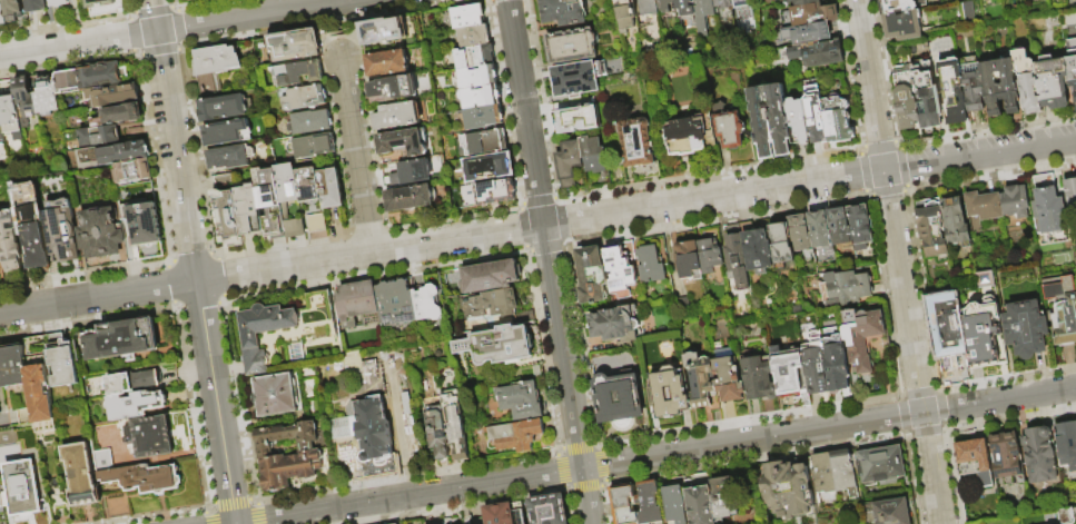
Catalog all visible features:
building: (739, 1)
building: (679, 3)
building: (720, 3)
building: (61, 4)
building: (105, 6)
building: (37, 7)
building: (663, 7)
building: (896, 7)
building: (646, 8)
building: (13, 11)
building: (811, 11)
building: (563, 12)
building: (465, 17)
building: (623, 17)
building: (702, 17)
building: (2, 18)
road: (327, 18)
building: (902, 26)
road: (176, 28)
building: (383, 31)
building: (807, 34)
building: (471, 37)
building: (295, 46)
road: (334, 46)
building: (570, 47)
building: (1070, 47)
building: (817, 56)
building: (472, 58)
building: (386, 63)
building: (214, 68)
building: (1072, 72)
building: (298, 75)
building: (475, 78)
building: (92, 79)
building: (575, 79)
building: (1026, 81)
building: (1052, 83)
building: (402, 87)
building: (971, 87)
building: (999, 87)
building: (951, 90)
building: (115, 97)
building: (304, 98)
building: (477, 98)
building: (904, 98)
building: (27, 99)
building: (48, 99)
building: (926, 100)
building: (221, 108)
building: (396, 116)
building: (815, 116)
building: (120, 117)
building: (11, 118)
building: (482, 118)
building: (576, 120)
building: (837, 120)
building: (309, 121)
building: (778, 121)
building: (797, 122)
building: (760, 123)
building: (1, 130)
building: (730, 131)
building: (226, 132)
building: (687, 137)
building: (100, 139)
building: (401, 142)
building: (482, 144)
building: (313, 146)
building: (638, 149)
road: (356, 155)
building: (593, 156)
building: (115, 157)
building: (236, 157)
building: (569, 164)
building: (490, 168)
building: (412, 172)
building: (132, 174)
building: (307, 181)
building: (329, 184)
building: (493, 191)
building: (1069, 191)
building: (408, 199)
building: (284, 202)
building: (1014, 202)
building: (1045, 206)
building: (224, 208)
building: (980, 209)
building: (247, 210)
building: (955, 224)
road: (537, 225)
building: (146, 226)
building: (859, 227)
building: (839, 228)
building: (33, 229)
building: (929, 229)
building: (819, 230)
building: (100, 235)
building: (800, 236)
building: (66, 238)
building: (10, 244)
building: (780, 246)
building: (757, 251)
building: (709, 255)
building: (651, 259)
building: (0, 260)
building: (688, 260)
road: (194, 261)
road: (549, 261)
building: (736, 261)
road: (899, 261)
building: (620, 267)
building: (591, 275)
building: (488, 277)
building: (843, 288)
building: (394, 303)
building: (426, 303)
building: (490, 304)
building: (356, 307)
building: (1060, 309)
building: (613, 324)
building: (945, 325)
building: (1025, 329)
building: (981, 334)
building: (122, 340)
building: (249, 340)
building: (496, 343)
building: (867, 343)
building: (296, 355)
building: (835, 359)
building: (63, 364)
building: (815, 364)
building: (13, 366)
building: (789, 372)
building: (727, 375)
building: (1, 377)
building: (759, 377)
building: (700, 379)
building: (132, 383)
building: (668, 393)
building: (41, 394)
building: (276, 394)
building: (618, 398)
building: (520, 401)
building: (135, 406)
road: (4, 421)
building: (454, 423)
building: (367, 428)
building: (435, 428)
building: (514, 435)
building: (7, 437)
building: (149, 437)
building: (1067, 445)
building: (1038, 454)
building: (289, 455)
road: (653, 456)
building: (973, 457)
building: (1006, 458)
building: (879, 464)
building: (82, 476)
building: (832, 478)
building: (142, 479)
building: (23, 490)
building: (786, 490)
building: (722, 496)
building: (698, 500)
building: (623, 503)
building: (648, 504)
building: (673, 504)
building: (3, 506)
building: (547, 510)
building: (890, 511)
building: (503, 513)
building: (395, 523)
building: (440, 523)

